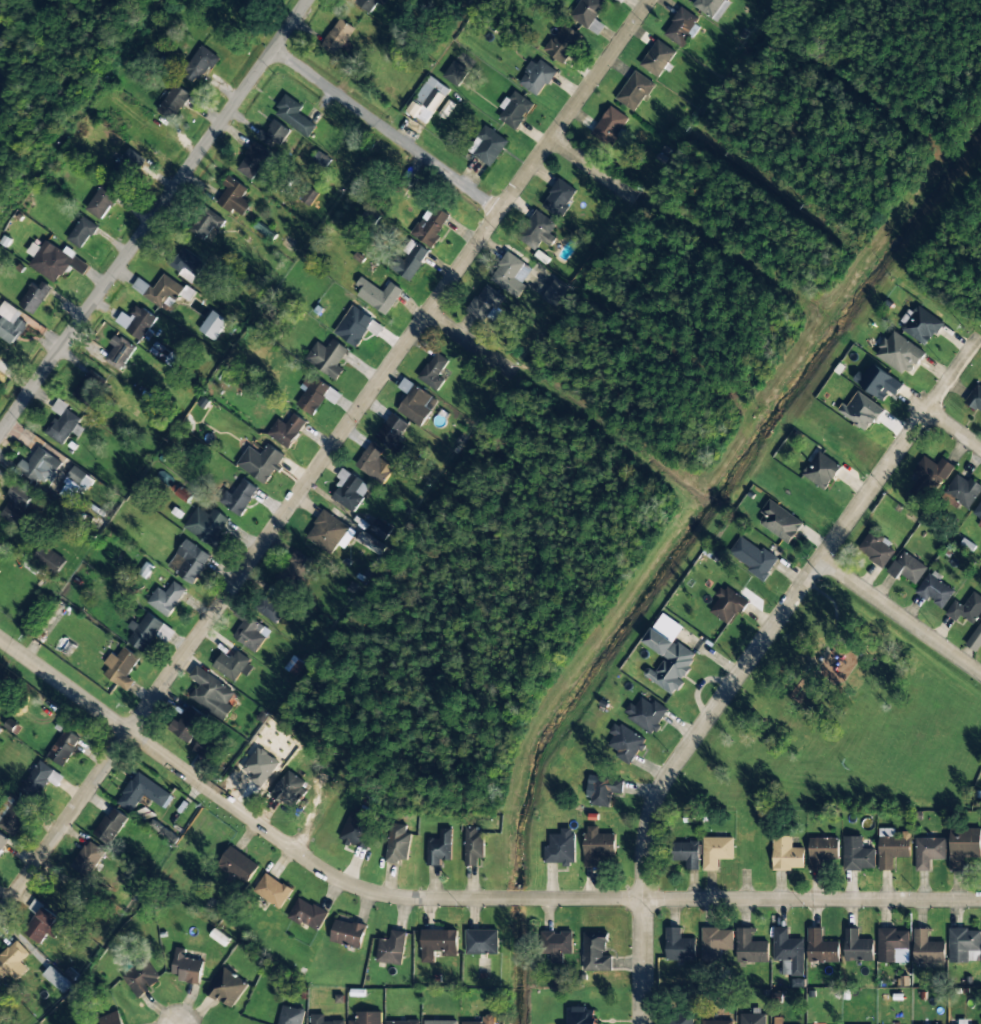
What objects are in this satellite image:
building: (256, 0)
building: (368, 4)
building: (588, 13)
building: (682, 27)
building: (338, 37)
building: (563, 43)
building: (657, 58)
building: (199, 64)
building: (455, 73)
building: (537, 77)
building: (634, 91)
building: (428, 100)
building: (173, 102)
building: (515, 110)
building: (294, 115)
building: (610, 126)
road: (387, 128)
building: (274, 134)
building: (487, 146)
building: (253, 160)
building: (127, 166)
road: (595, 169)
building: (234, 197)
building: (308, 197)
building: (559, 198)
building: (102, 201)
road: (153, 216)
building: (206, 225)
building: (431, 225)
building: (538, 230)
building: (82, 232)
building: (410, 260)
building: (54, 261)
building: (186, 264)
building: (511, 274)
building: (159, 290)
building: (554, 292)
building: (378, 295)
building: (35, 297)
building: (485, 304)
building: (136, 322)
building: (10, 323)
building: (213, 325)
building: (921, 325)
building: (353, 326)
road: (472, 343)
building: (119, 352)
building: (899, 354)
building: (327, 358)
building: (434, 371)
building: (878, 382)
building: (88, 387)
building: (313, 395)
building: (975, 399)
building: (415, 402)
building: (861, 411)
building: (63, 422)
road: (954, 428)
building: (287, 430)
building: (393, 432)
road: (325, 456)
building: (260, 462)
building: (374, 463)
building: (40, 467)
building: (821, 470)
building: (930, 474)
building: (77, 487)
building: (349, 490)
building: (963, 491)
building: (238, 497)
building: (18, 507)
building: (978, 511)
building: (780, 521)
building: (207, 526)
building: (379, 529)
building: (329, 533)
building: (369, 543)
building: (0, 547)
building: (876, 549)
building: (752, 557)
building: (49, 559)
building: (189, 561)
building: (295, 568)
building: (907, 568)
building: (936, 590)
building: (166, 598)
building: (728, 604)
building: (273, 606)
building: (966, 609)
road: (901, 615)
building: (250, 631)
building: (148, 632)
building: (975, 640)
building: (668, 654)
road: (750, 661)
building: (233, 666)
building: (121, 667)
building: (212, 693)
building: (646, 713)
building: (187, 724)
building: (624, 743)
building: (64, 747)
building: (203, 748)
building: (260, 765)
building: (41, 781)
building: (288, 789)
building: (603, 790)
building: (143, 793)
building: (14, 814)
building: (110, 826)
building: (356, 829)
building: (2, 841)
building: (397, 844)
building: (473, 845)
building: (596, 845)
building: (963, 846)
building: (892, 847)
building: (439, 848)
building: (560, 848)
building: (716, 851)
building: (822, 851)
building: (928, 852)
building: (685, 853)
building: (786, 854)
building: (857, 854)
building: (87, 859)
building: (238, 865)
building: (272, 890)
road: (450, 897)
building: (307, 914)
building: (43, 924)
building: (348, 932)
building: (481, 942)
building: (715, 943)
building: (438, 944)
building: (556, 945)
building: (964, 945)
building: (679, 946)
building: (893, 946)
building: (821, 947)
building: (857, 947)
building: (392, 948)
building: (750, 948)
building: (928, 950)
building: (595, 952)
building: (788, 952)
building: (12, 961)
building: (186, 967)
building: (141, 978)
building: (57, 979)
building: (227, 987)
building: (290, 1015)
building: (582, 1016)
building: (111, 1018)
building: (367, 1018)
building: (680, 1019)
building: (752, 1019)
building: (322, 1020)
building: (484, 1020)
building: (776, 1020)
building: (962, 1021)
building: (403, 1022)
building: (440, 1022)
building: (716, 1022)

